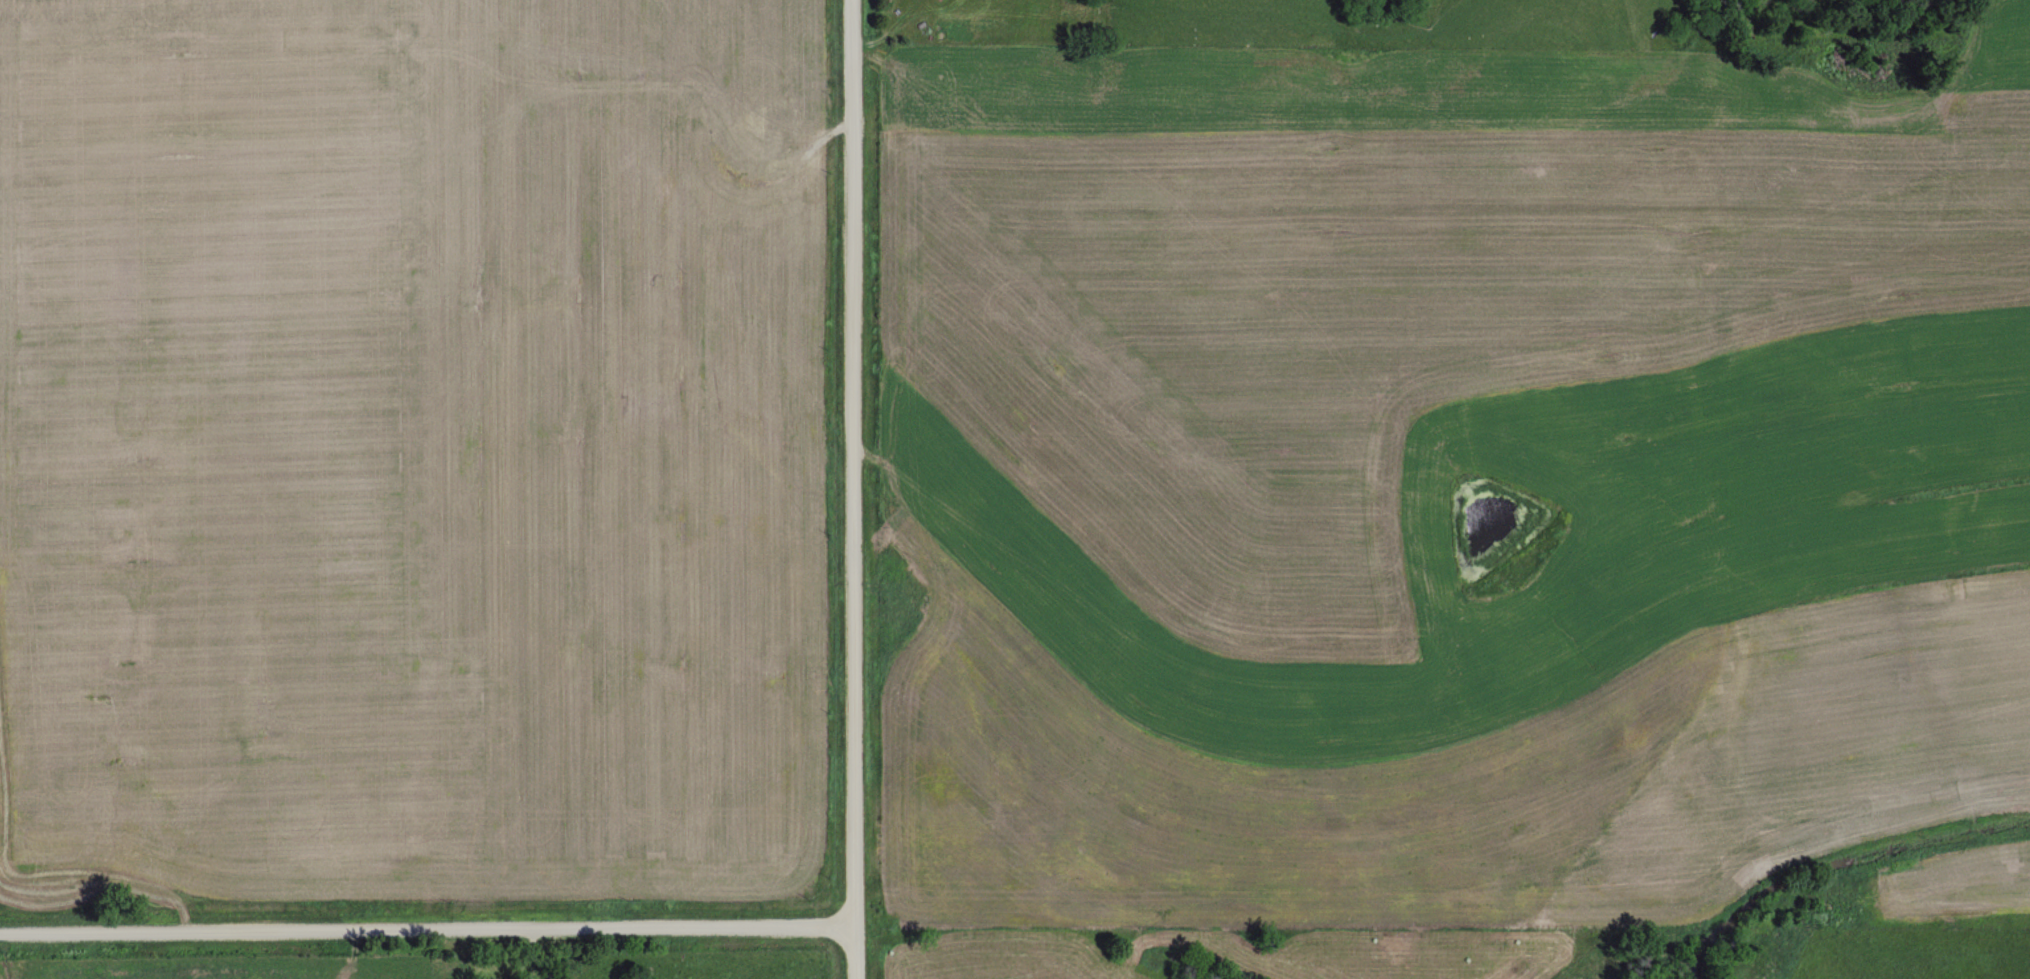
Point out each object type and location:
road: (854, 489)
road: (426, 931)

